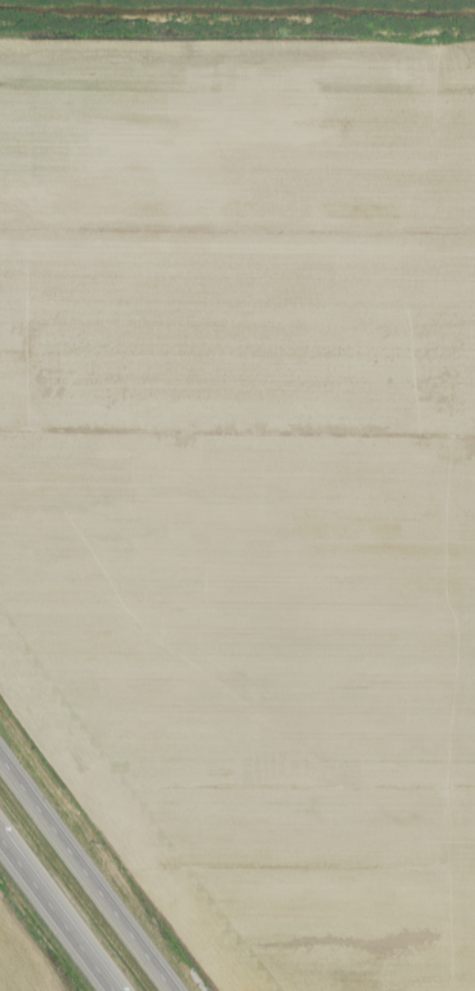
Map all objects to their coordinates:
road: (90, 868)
road: (57, 911)

